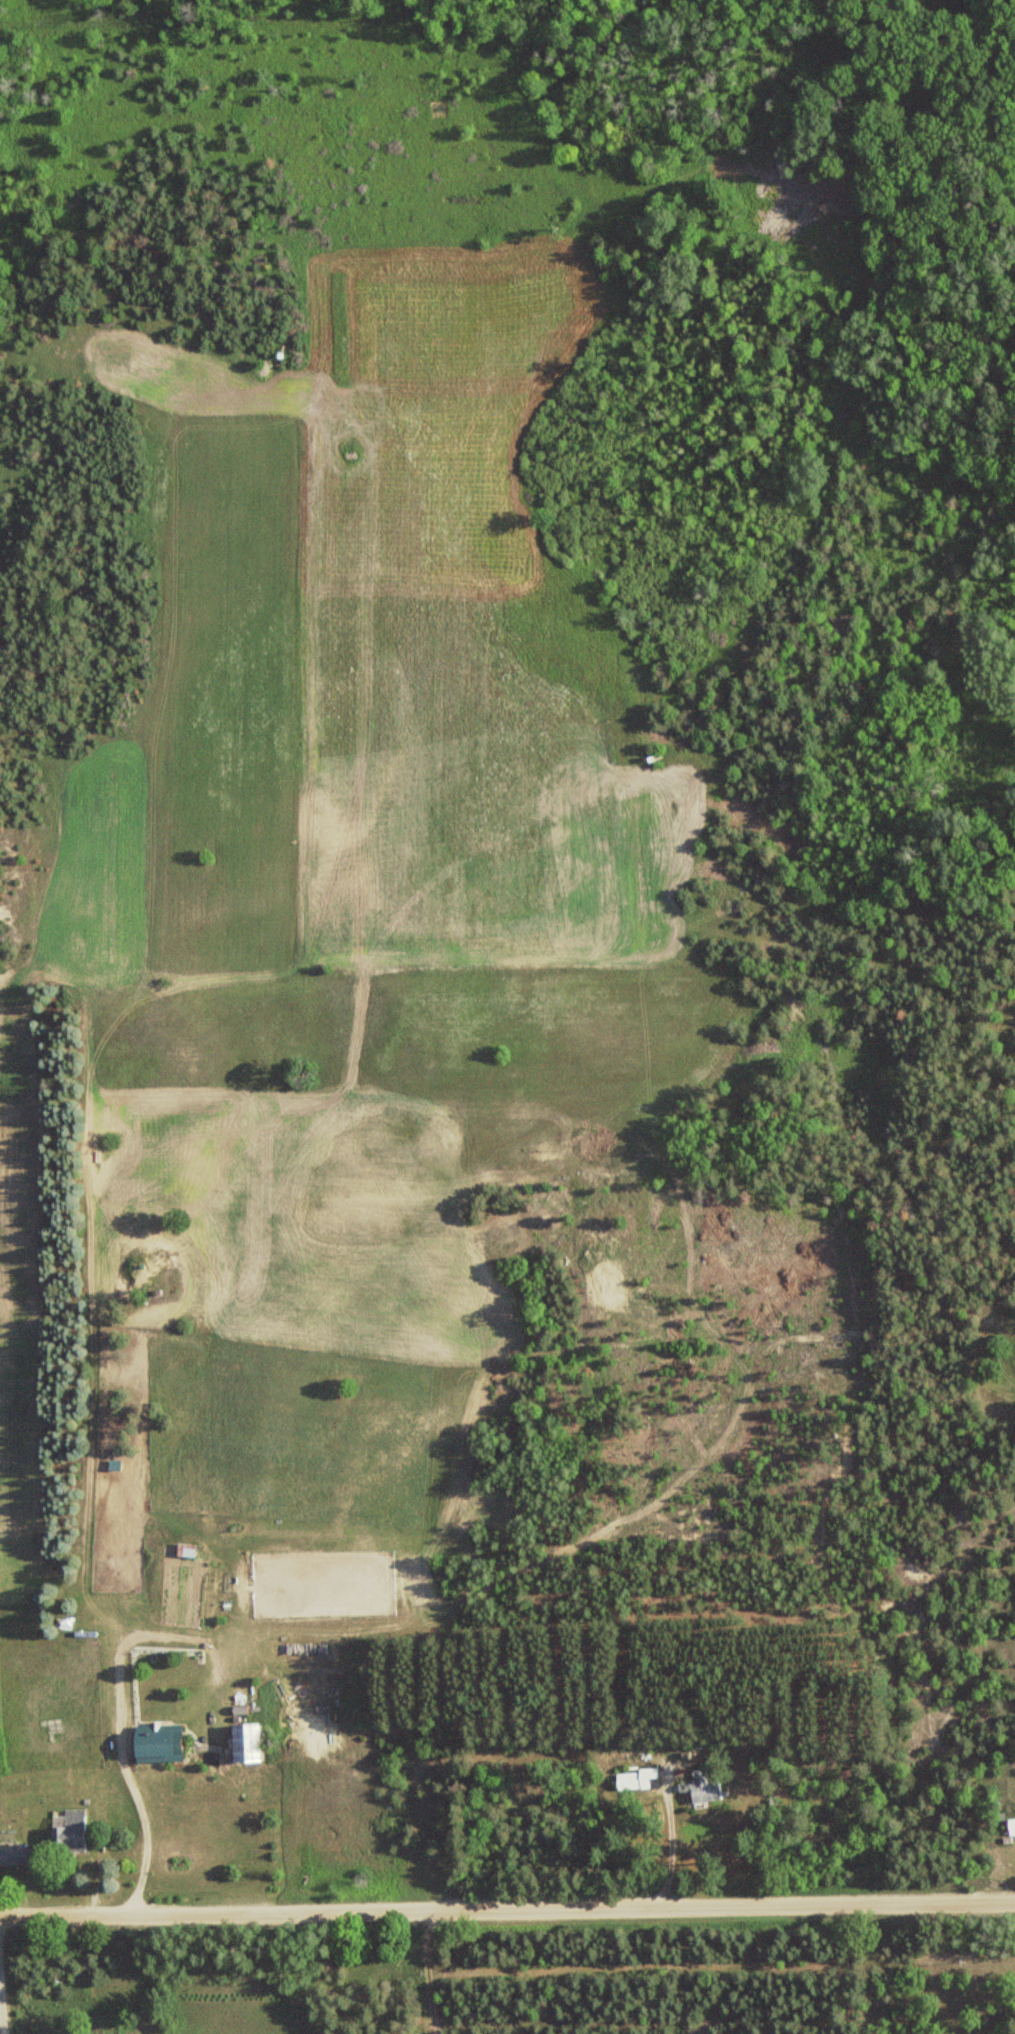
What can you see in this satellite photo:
building: (185, 1549)
building: (155, 1741)
building: (244, 1742)
building: (636, 1779)
building: (704, 1785)
building: (70, 1832)
building: (14, 1855)
road: (507, 1907)
building: (132, 2026)

